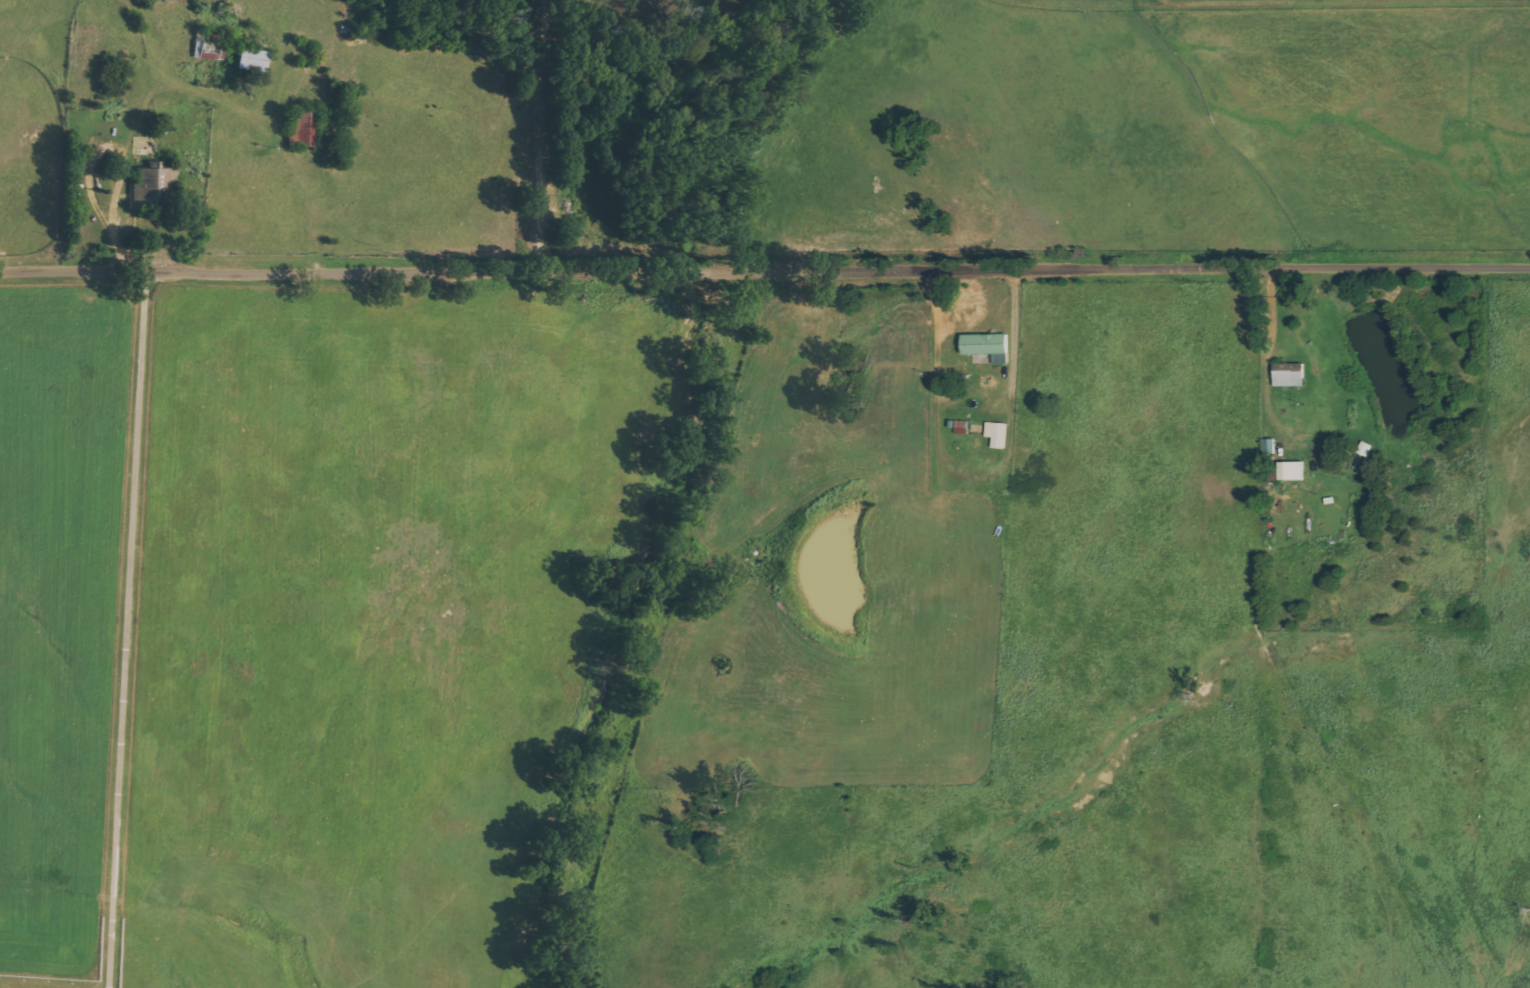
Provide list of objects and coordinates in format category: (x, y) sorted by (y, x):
building: (247, 59)
building: (150, 181)
road: (765, 264)
building: (985, 345)
building: (1287, 374)
building: (995, 433)
building: (1289, 470)
road: (133, 488)

